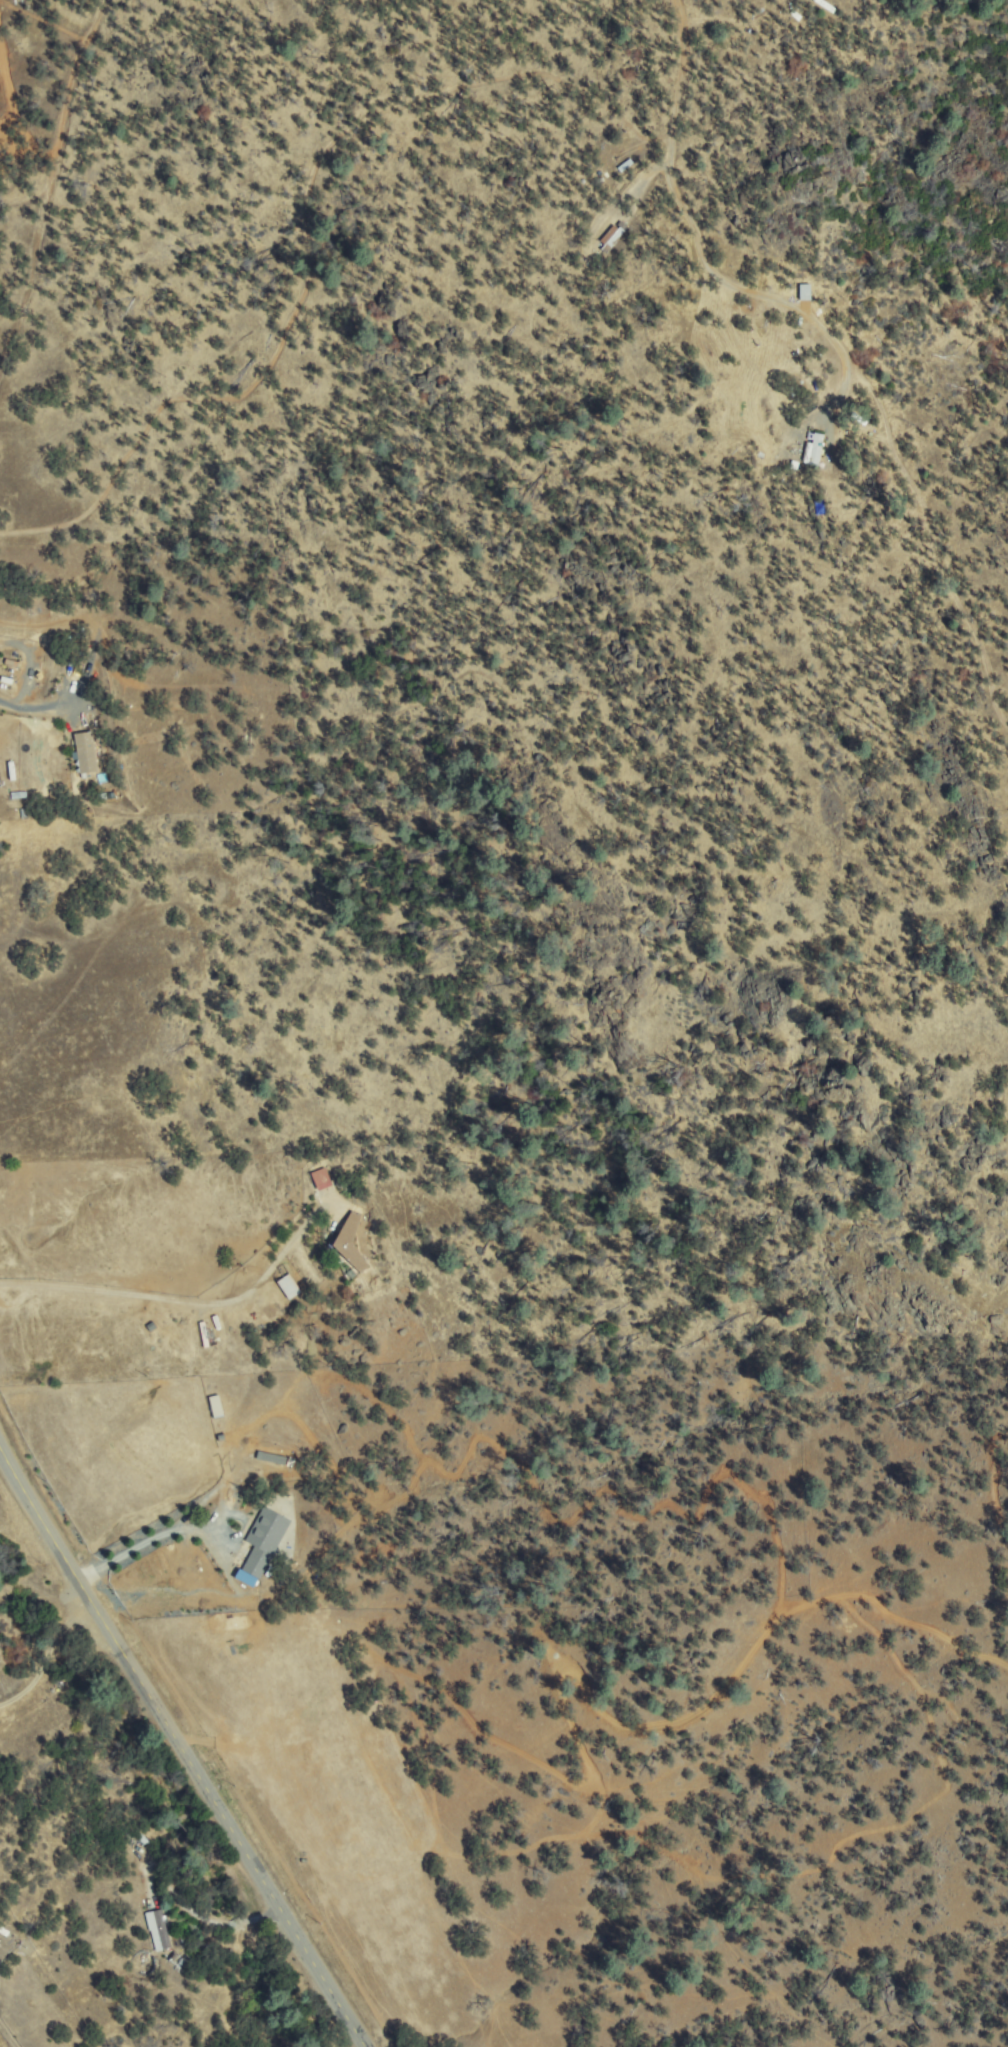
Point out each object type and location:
building: (825, 5)
building: (795, 15)
building: (625, 166)
building: (611, 238)
building: (858, 418)
building: (816, 450)
building: (808, 453)
building: (86, 753)
building: (321, 1179)
building: (350, 1245)
building: (292, 1284)
building: (215, 1405)
building: (220, 1438)
building: (271, 1458)
building: (262, 1542)
road: (183, 1747)
building: (141, 1838)
building: (158, 1930)
building: (3, 1931)

